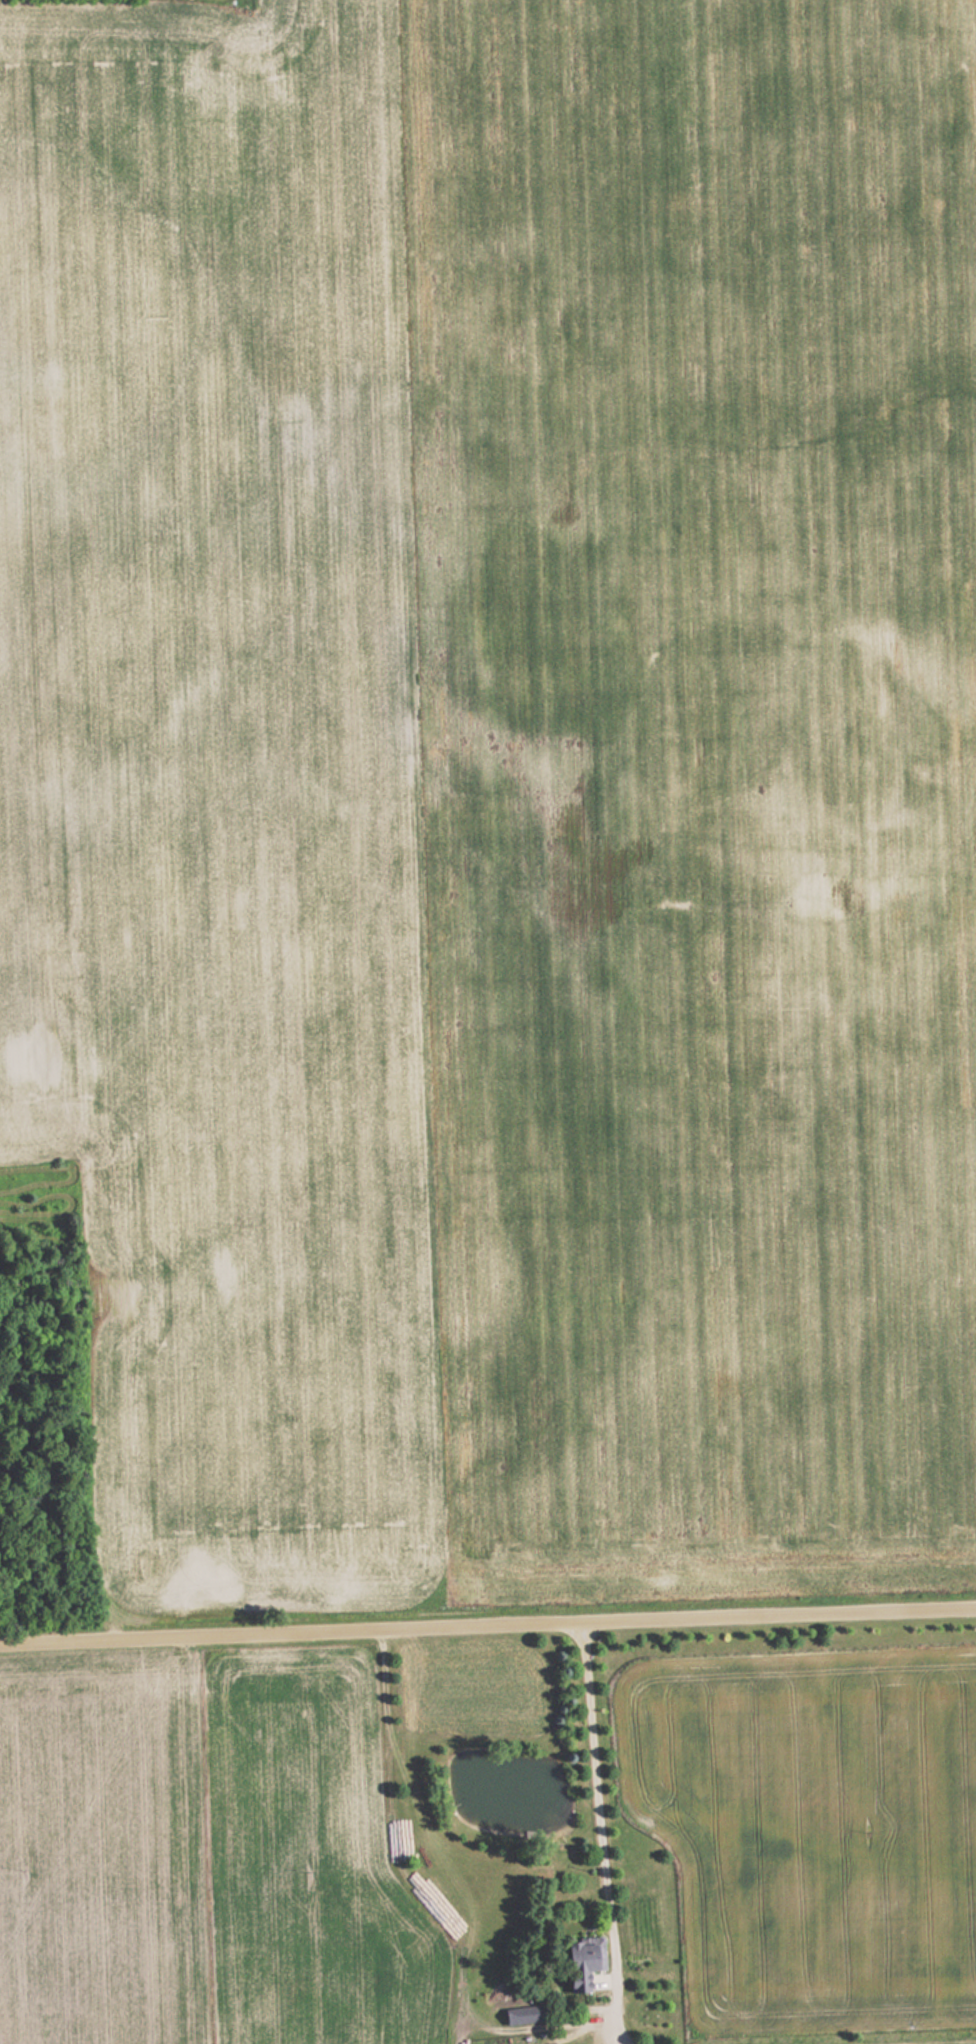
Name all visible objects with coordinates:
road: (488, 1622)
building: (583, 1962)
building: (523, 2014)

